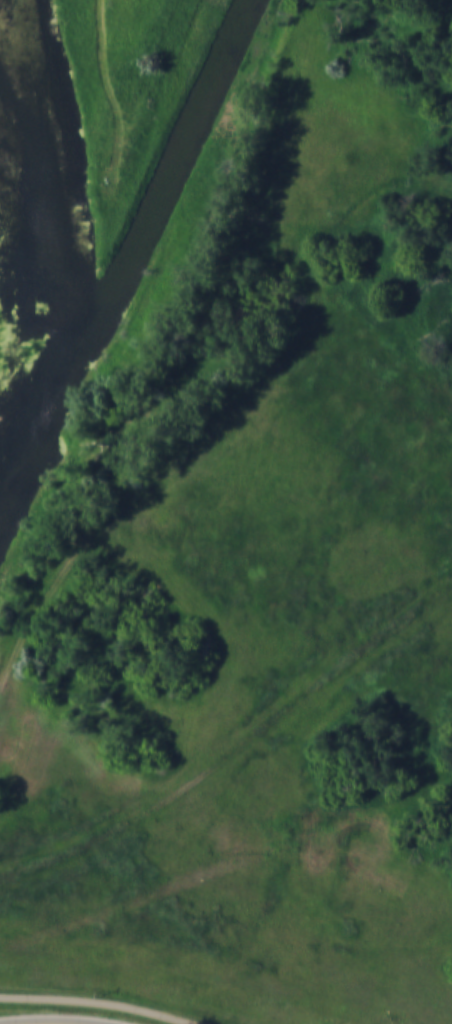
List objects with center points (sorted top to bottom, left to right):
road: (109, 90)
park: (71, 147)
river: (44, 161)
river: (141, 242)
road: (96, 1003)
road: (68, 1023)

